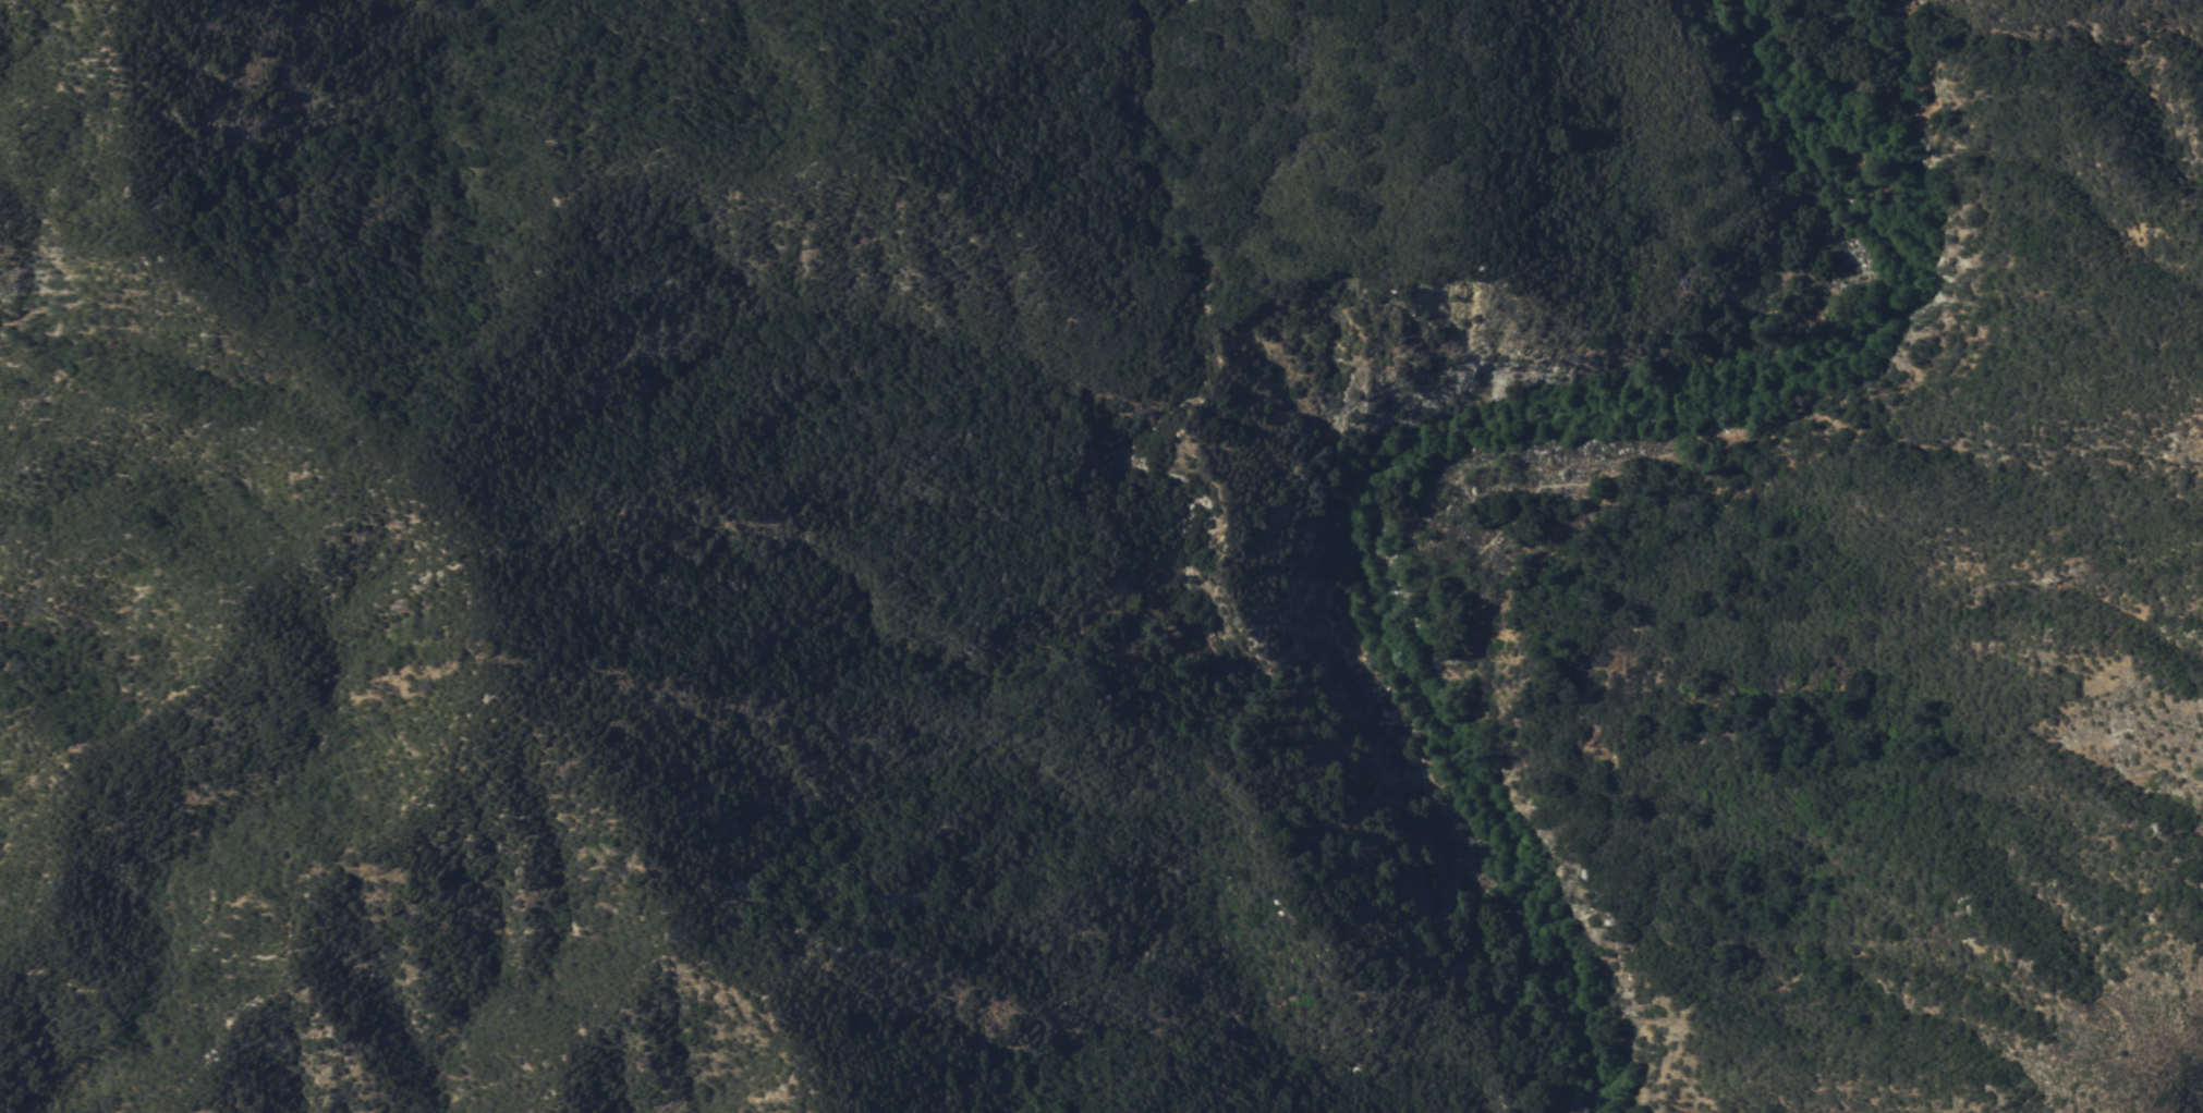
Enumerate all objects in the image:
road: (1523, 490)

